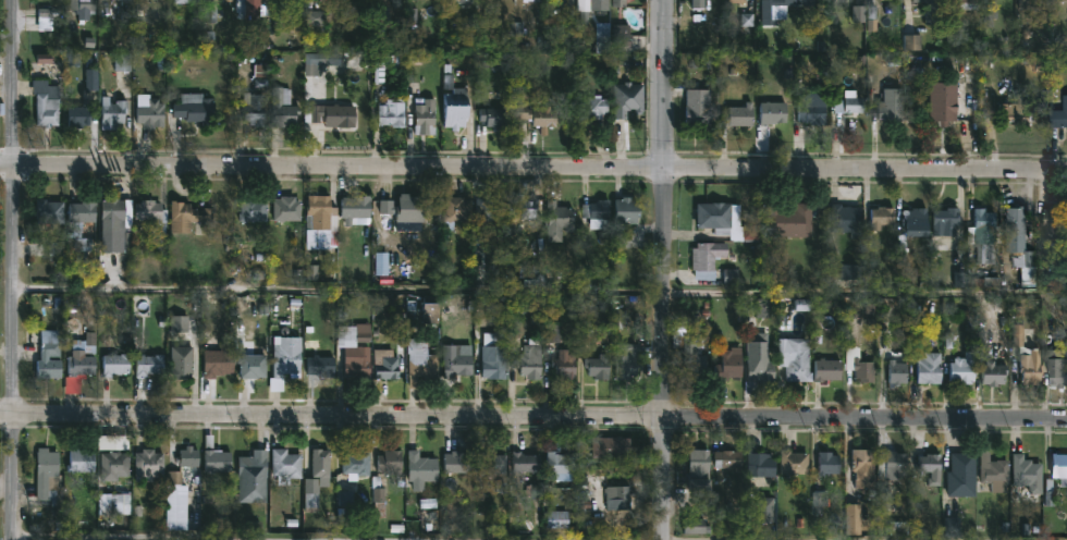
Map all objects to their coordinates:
building: (229, 0)
building: (1060, 0)
building: (186, 1)
building: (466, 1)
building: (397, 2)
building: (622, 2)
building: (965, 3)
building: (745, 4)
building: (1026, 4)
building: (593, 5)
building: (253, 8)
building: (781, 8)
building: (928, 11)
building: (709, 14)
building: (315, 24)
building: (624, 39)
building: (912, 45)
building: (629, 99)
building: (456, 101)
building: (47, 102)
building: (848, 103)
building: (887, 106)
building: (940, 107)
building: (196, 108)
building: (285, 108)
building: (596, 108)
building: (698, 109)
building: (255, 110)
building: (150, 111)
building: (1013, 111)
building: (114, 112)
building: (773, 113)
building: (814, 113)
building: (1057, 113)
building: (332, 114)
building: (393, 114)
building: (82, 115)
building: (739, 115)
building: (539, 116)
building: (427, 118)
building: (494, 118)
road: (532, 170)
building: (256, 207)
building: (407, 208)
building: (525, 208)
building: (289, 209)
building: (149, 210)
building: (357, 210)
building: (490, 210)
building: (628, 210)
building: (50, 211)
building: (458, 211)
building: (321, 212)
building: (598, 214)
building: (187, 217)
building: (878, 217)
building: (842, 219)
building: (941, 219)
building: (786, 220)
building: (980, 220)
building: (560, 221)
building: (731, 221)
building: (1051, 221)
building: (910, 222)
building: (82, 223)
building: (1013, 223)
building: (118, 225)
building: (986, 253)
building: (709, 258)
road: (19, 269)
road: (664, 270)
road: (542, 289)
building: (432, 310)
building: (356, 349)
building: (45, 356)
building: (692, 356)
building: (1025, 358)
building: (220, 359)
building: (626, 359)
building: (421, 360)
building: (532, 360)
building: (286, 361)
building: (183, 363)
building: (456, 363)
building: (494, 363)
building: (113, 364)
building: (387, 364)
building: (731, 364)
building: (761, 364)
building: (797, 364)
building: (149, 365)
building: (564, 365)
building: (253, 366)
building: (321, 367)
building: (600, 367)
building: (1055, 367)
building: (925, 368)
building: (958, 369)
building: (78, 370)
building: (822, 370)
building: (859, 370)
building: (894, 372)
building: (991, 373)
road: (533, 416)
building: (612, 447)
building: (189, 457)
building: (217, 458)
building: (729, 459)
building: (82, 461)
building: (559, 462)
building: (358, 463)
building: (392, 463)
building: (457, 463)
building: (492, 463)
building: (528, 463)
building: (793, 463)
building: (924, 463)
building: (323, 464)
building: (761, 464)
building: (823, 464)
building: (114, 465)
building: (149, 465)
building: (286, 466)
building: (859, 467)
building: (1058, 467)
building: (422, 469)
building: (701, 470)
building: (991, 472)
building: (1023, 472)
building: (885, 475)
building: (957, 475)
building: (49, 477)
building: (254, 478)
building: (380, 498)
building: (620, 499)
building: (766, 510)
building: (694, 527)
building: (953, 528)

